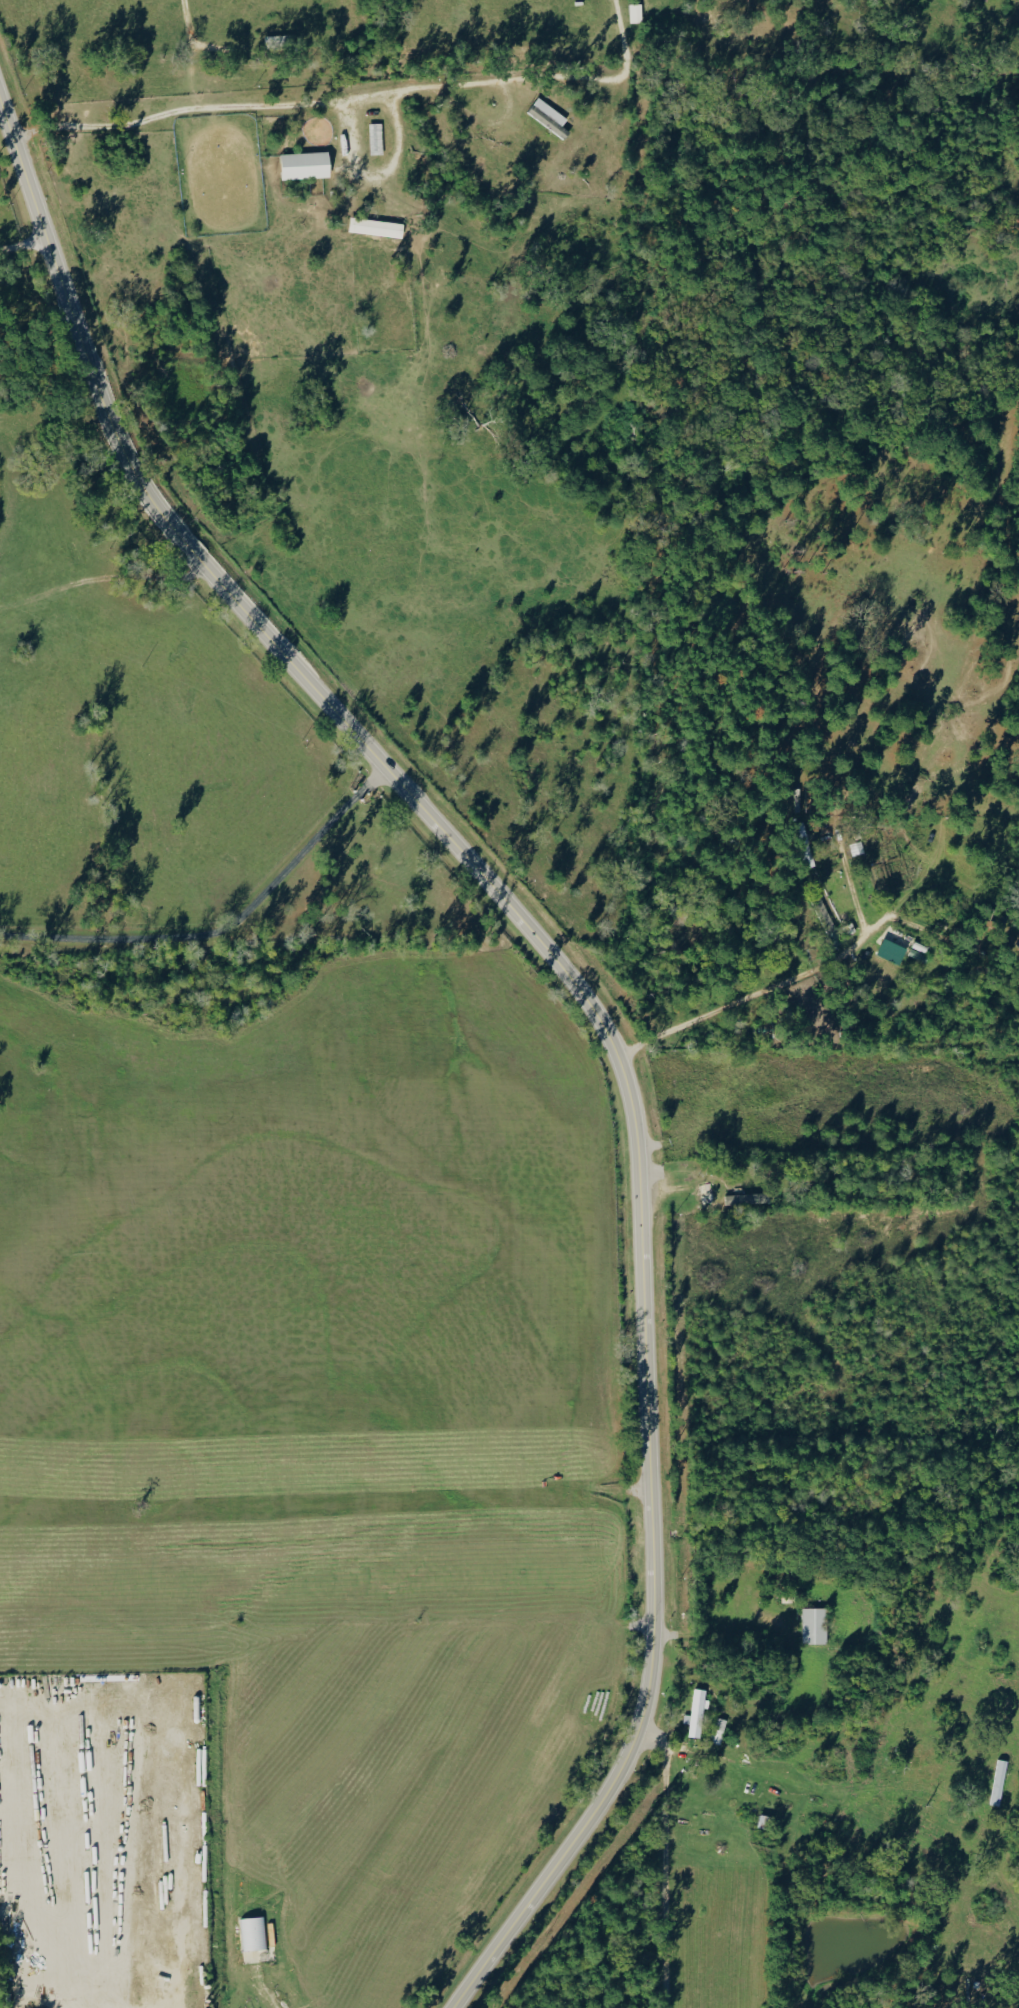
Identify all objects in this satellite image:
building: (635, 12)
road: (460, 88)
road: (370, 102)
building: (548, 116)
road: (178, 118)
building: (304, 164)
road: (23, 248)
building: (804, 844)
building: (826, 921)
road: (228, 933)
building: (892, 951)
road: (784, 985)
road: (586, 994)
building: (747, 1198)
building: (814, 1625)
road: (720, 1629)
building: (696, 1712)
building: (719, 1730)
road: (665, 1864)
building: (253, 1937)
road: (276, 1995)

